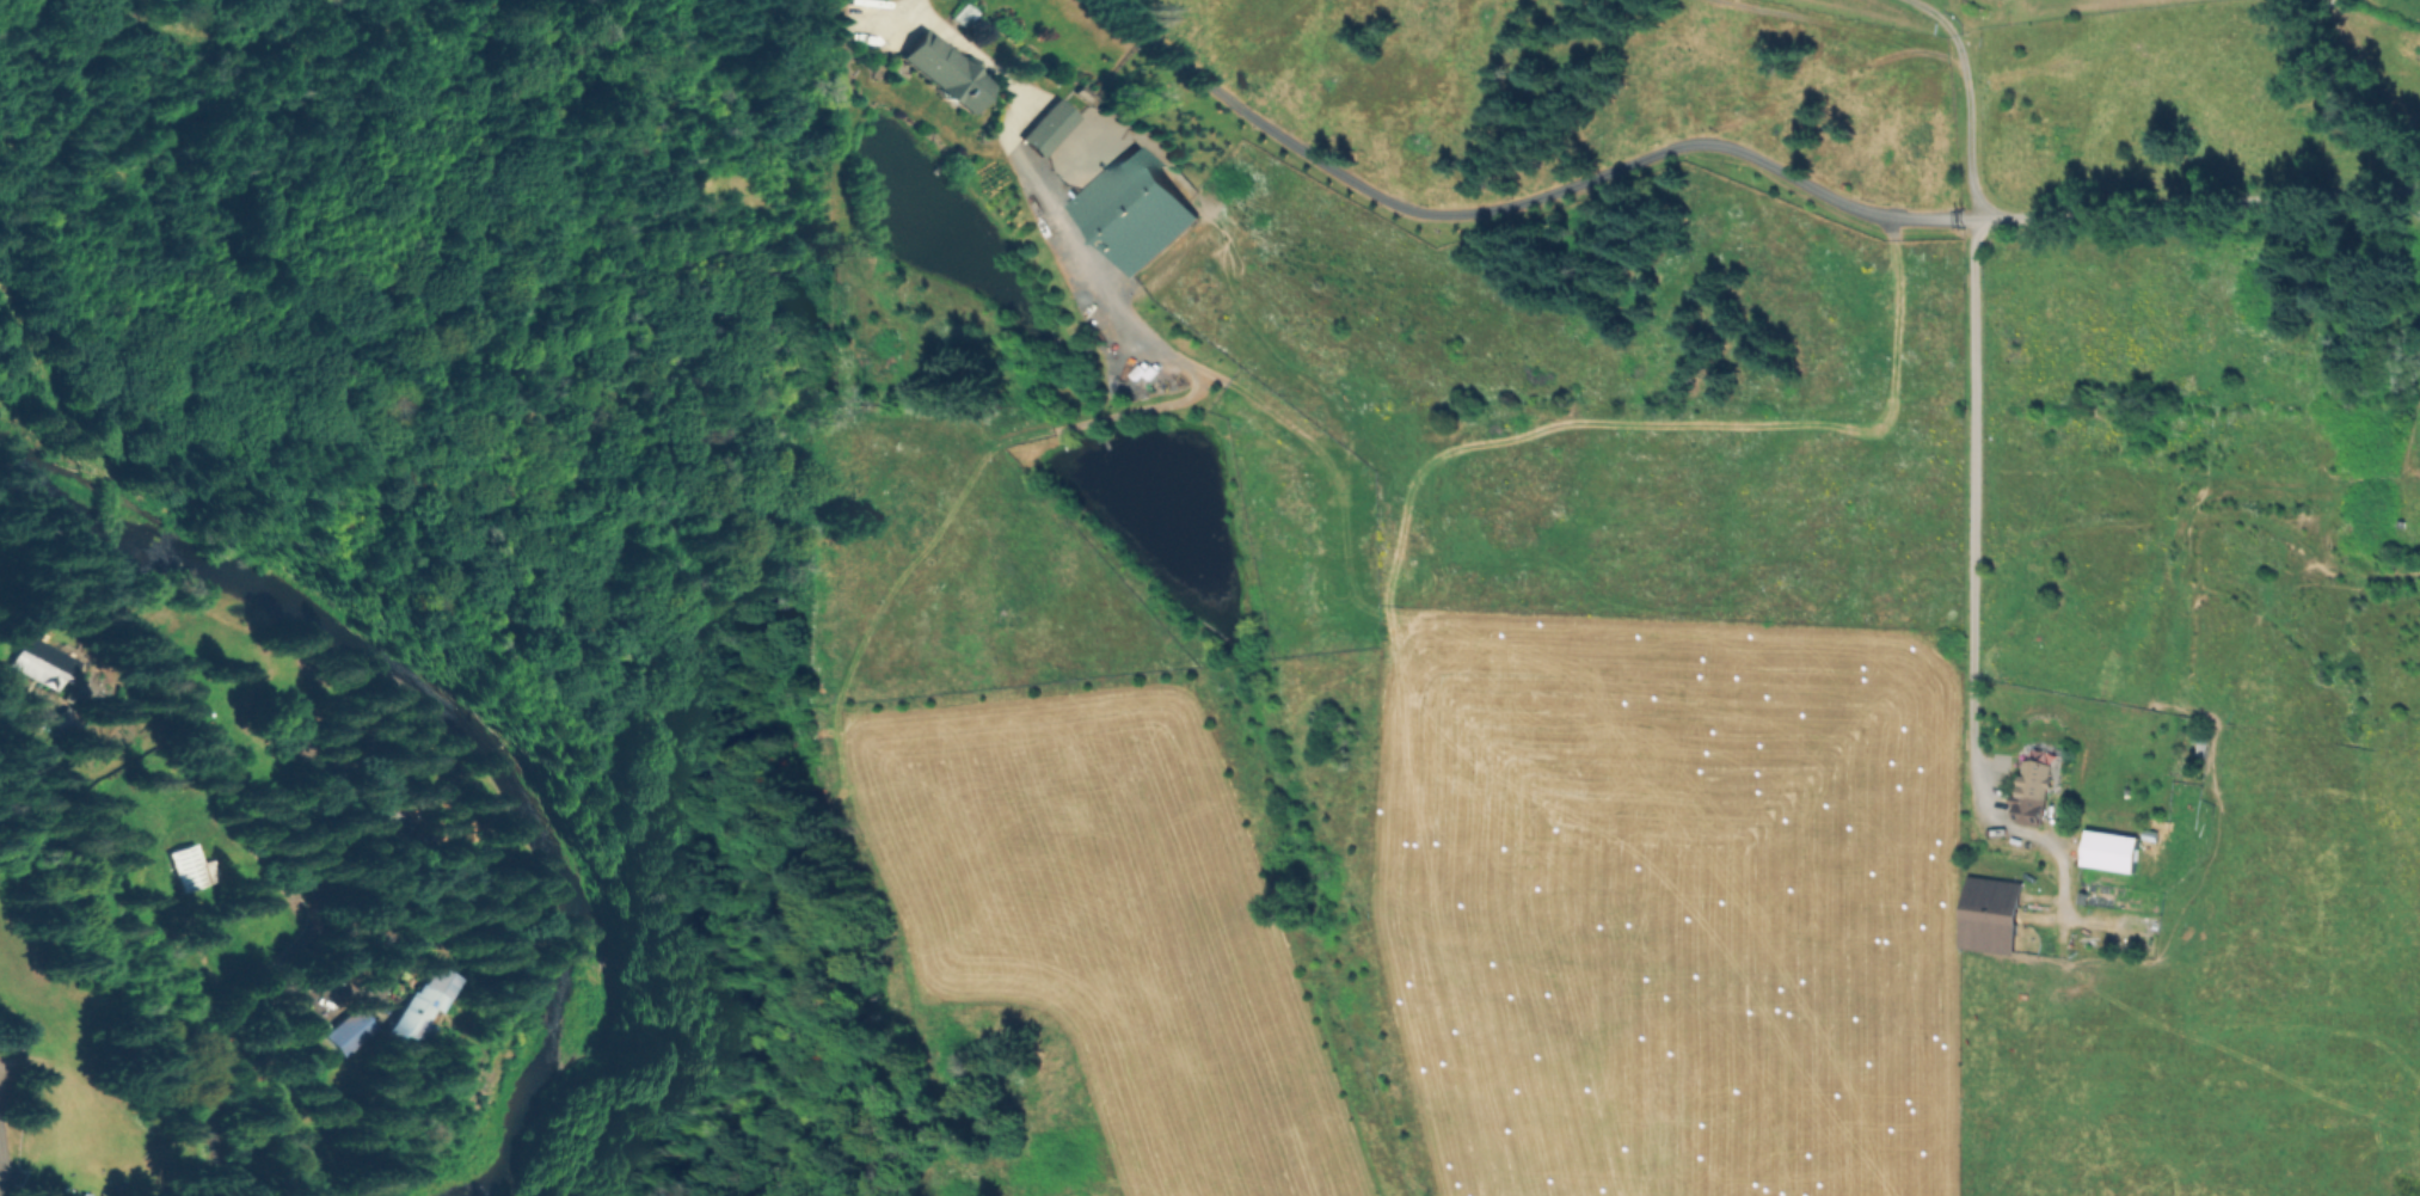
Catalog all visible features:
building: (960, 16)
building: (944, 70)
road: (1960, 97)
building: (1046, 122)
road: (1714, 146)
road: (2413, 196)
road: (2394, 197)
building: (1135, 210)
road: (1973, 489)
building: (44, 661)
building: (69, 720)
building: (2200, 746)
building: (2031, 787)
building: (2105, 847)
building: (188, 870)
building: (1990, 907)
building: (417, 1005)
building: (350, 1032)
road: (2, 1159)

